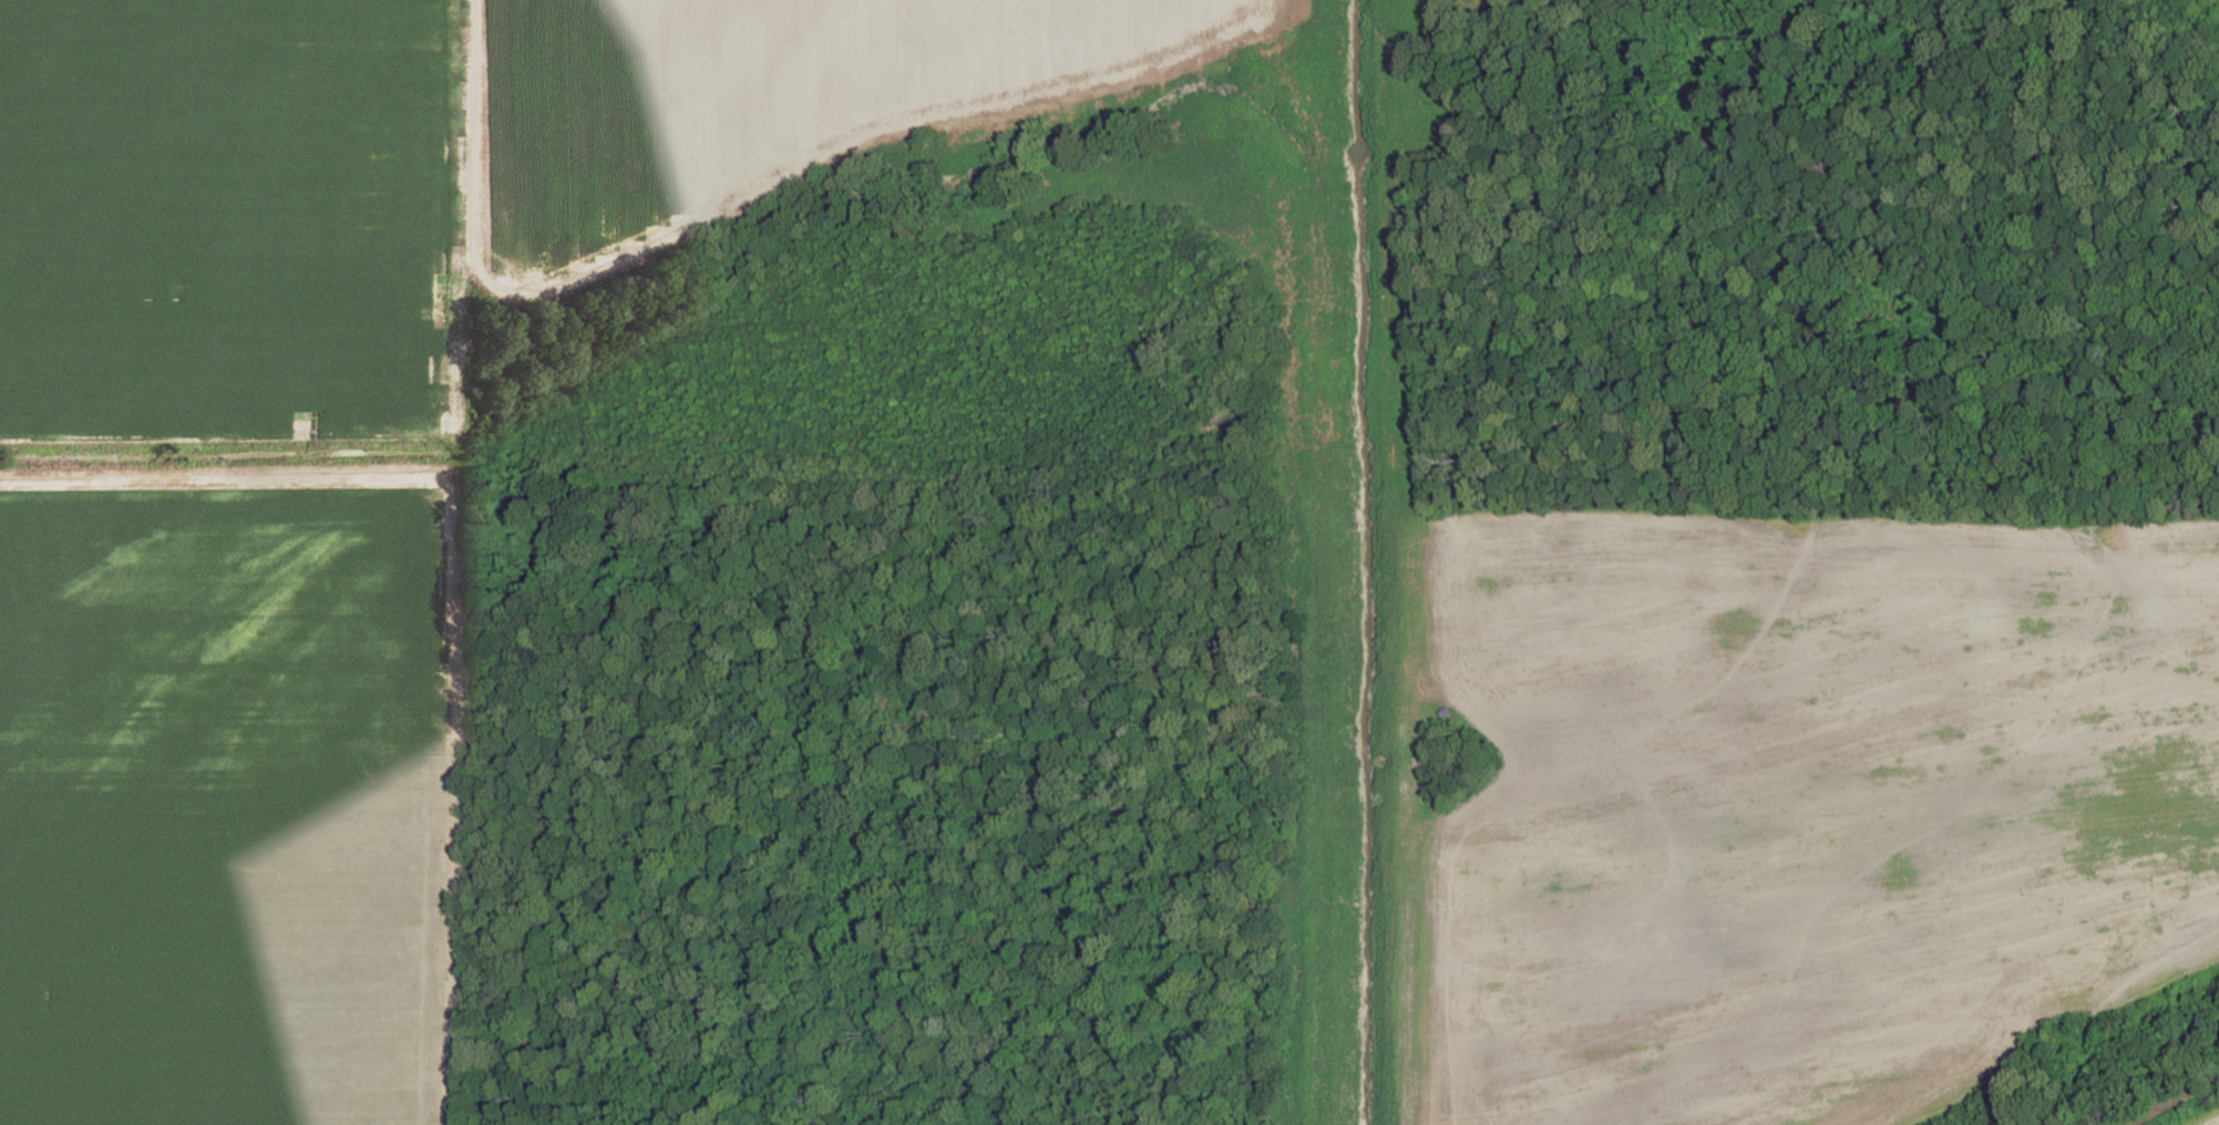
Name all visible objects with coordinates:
road: (454, 465)

